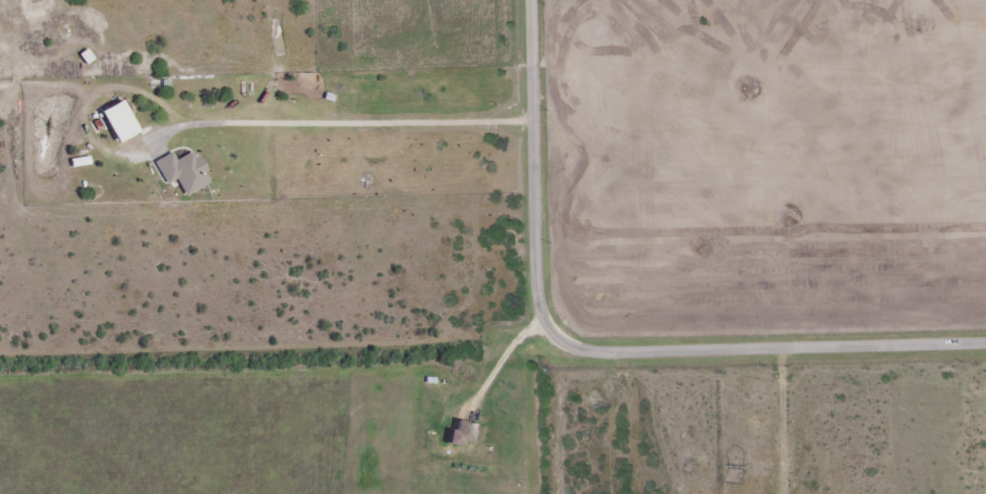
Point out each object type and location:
building: (119, 122)
building: (183, 171)
road: (603, 346)
building: (464, 434)

